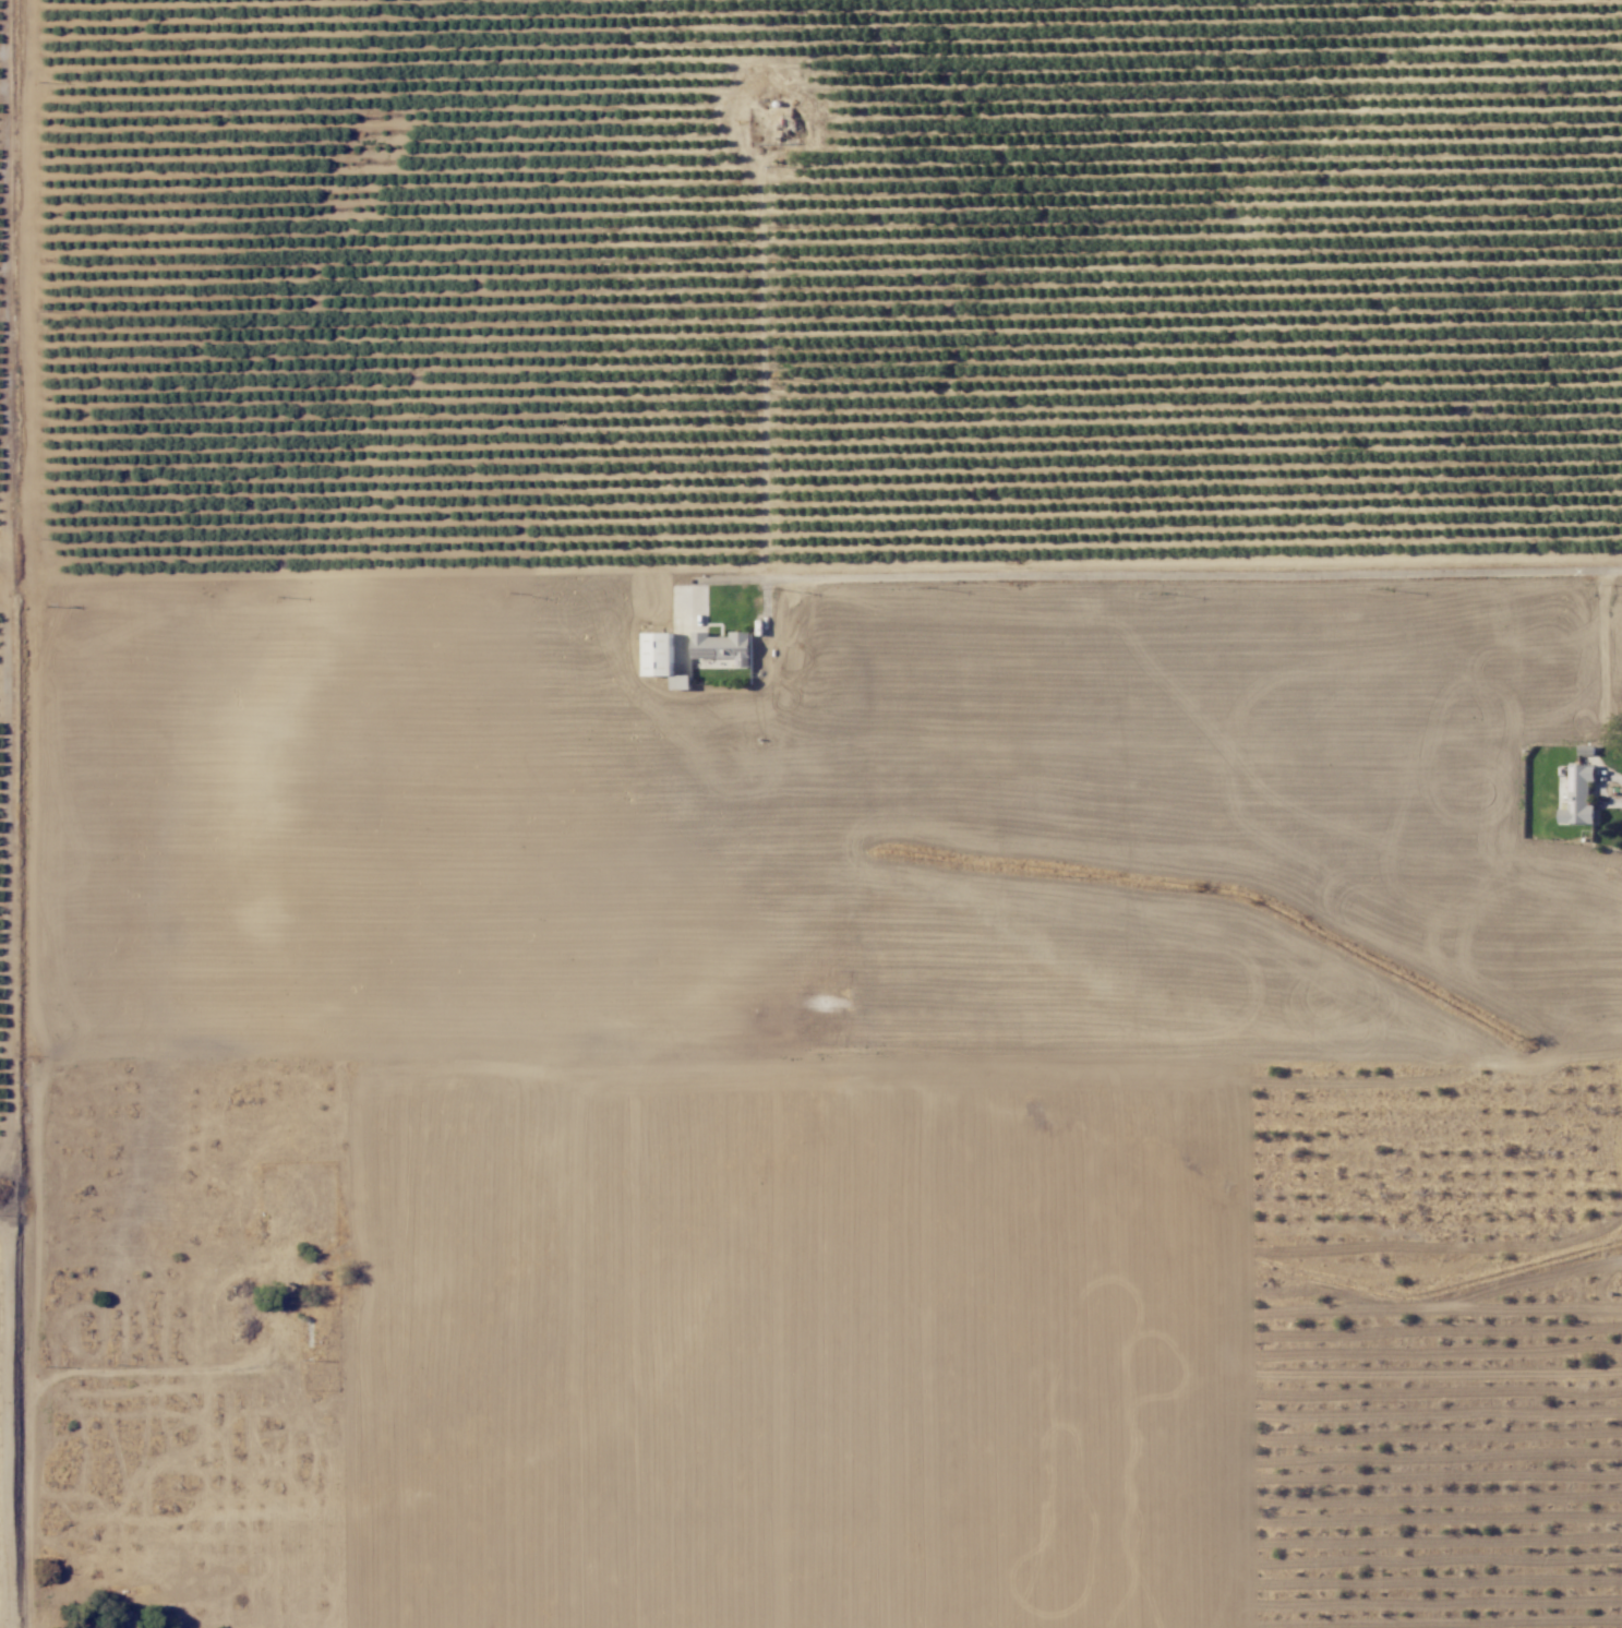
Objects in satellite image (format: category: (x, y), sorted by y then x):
road: (1144, 574)
building: (663, 659)
road: (1602, 787)
building: (1579, 797)
road: (22, 1113)
road: (143, 1370)

